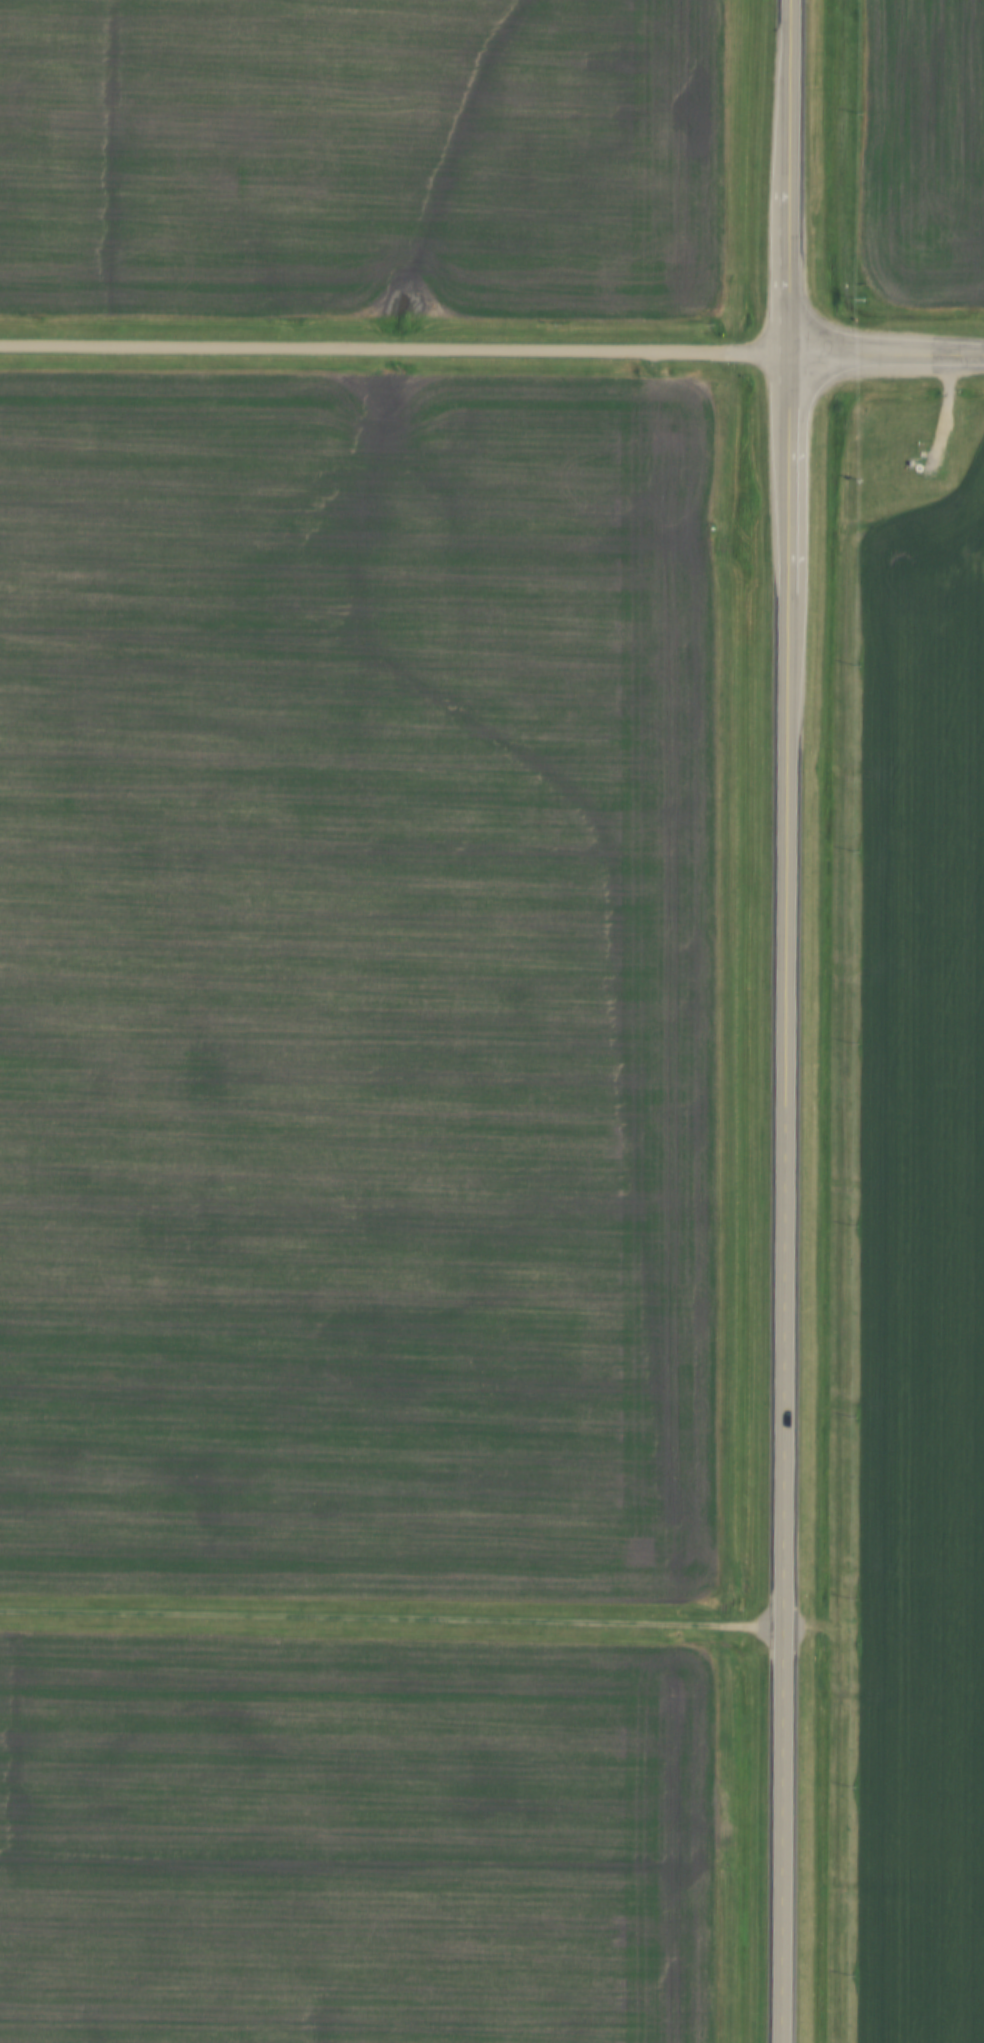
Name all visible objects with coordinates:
road: (788, 177)
road: (394, 351)
road: (886, 355)
road: (785, 1199)
road: (392, 1620)

